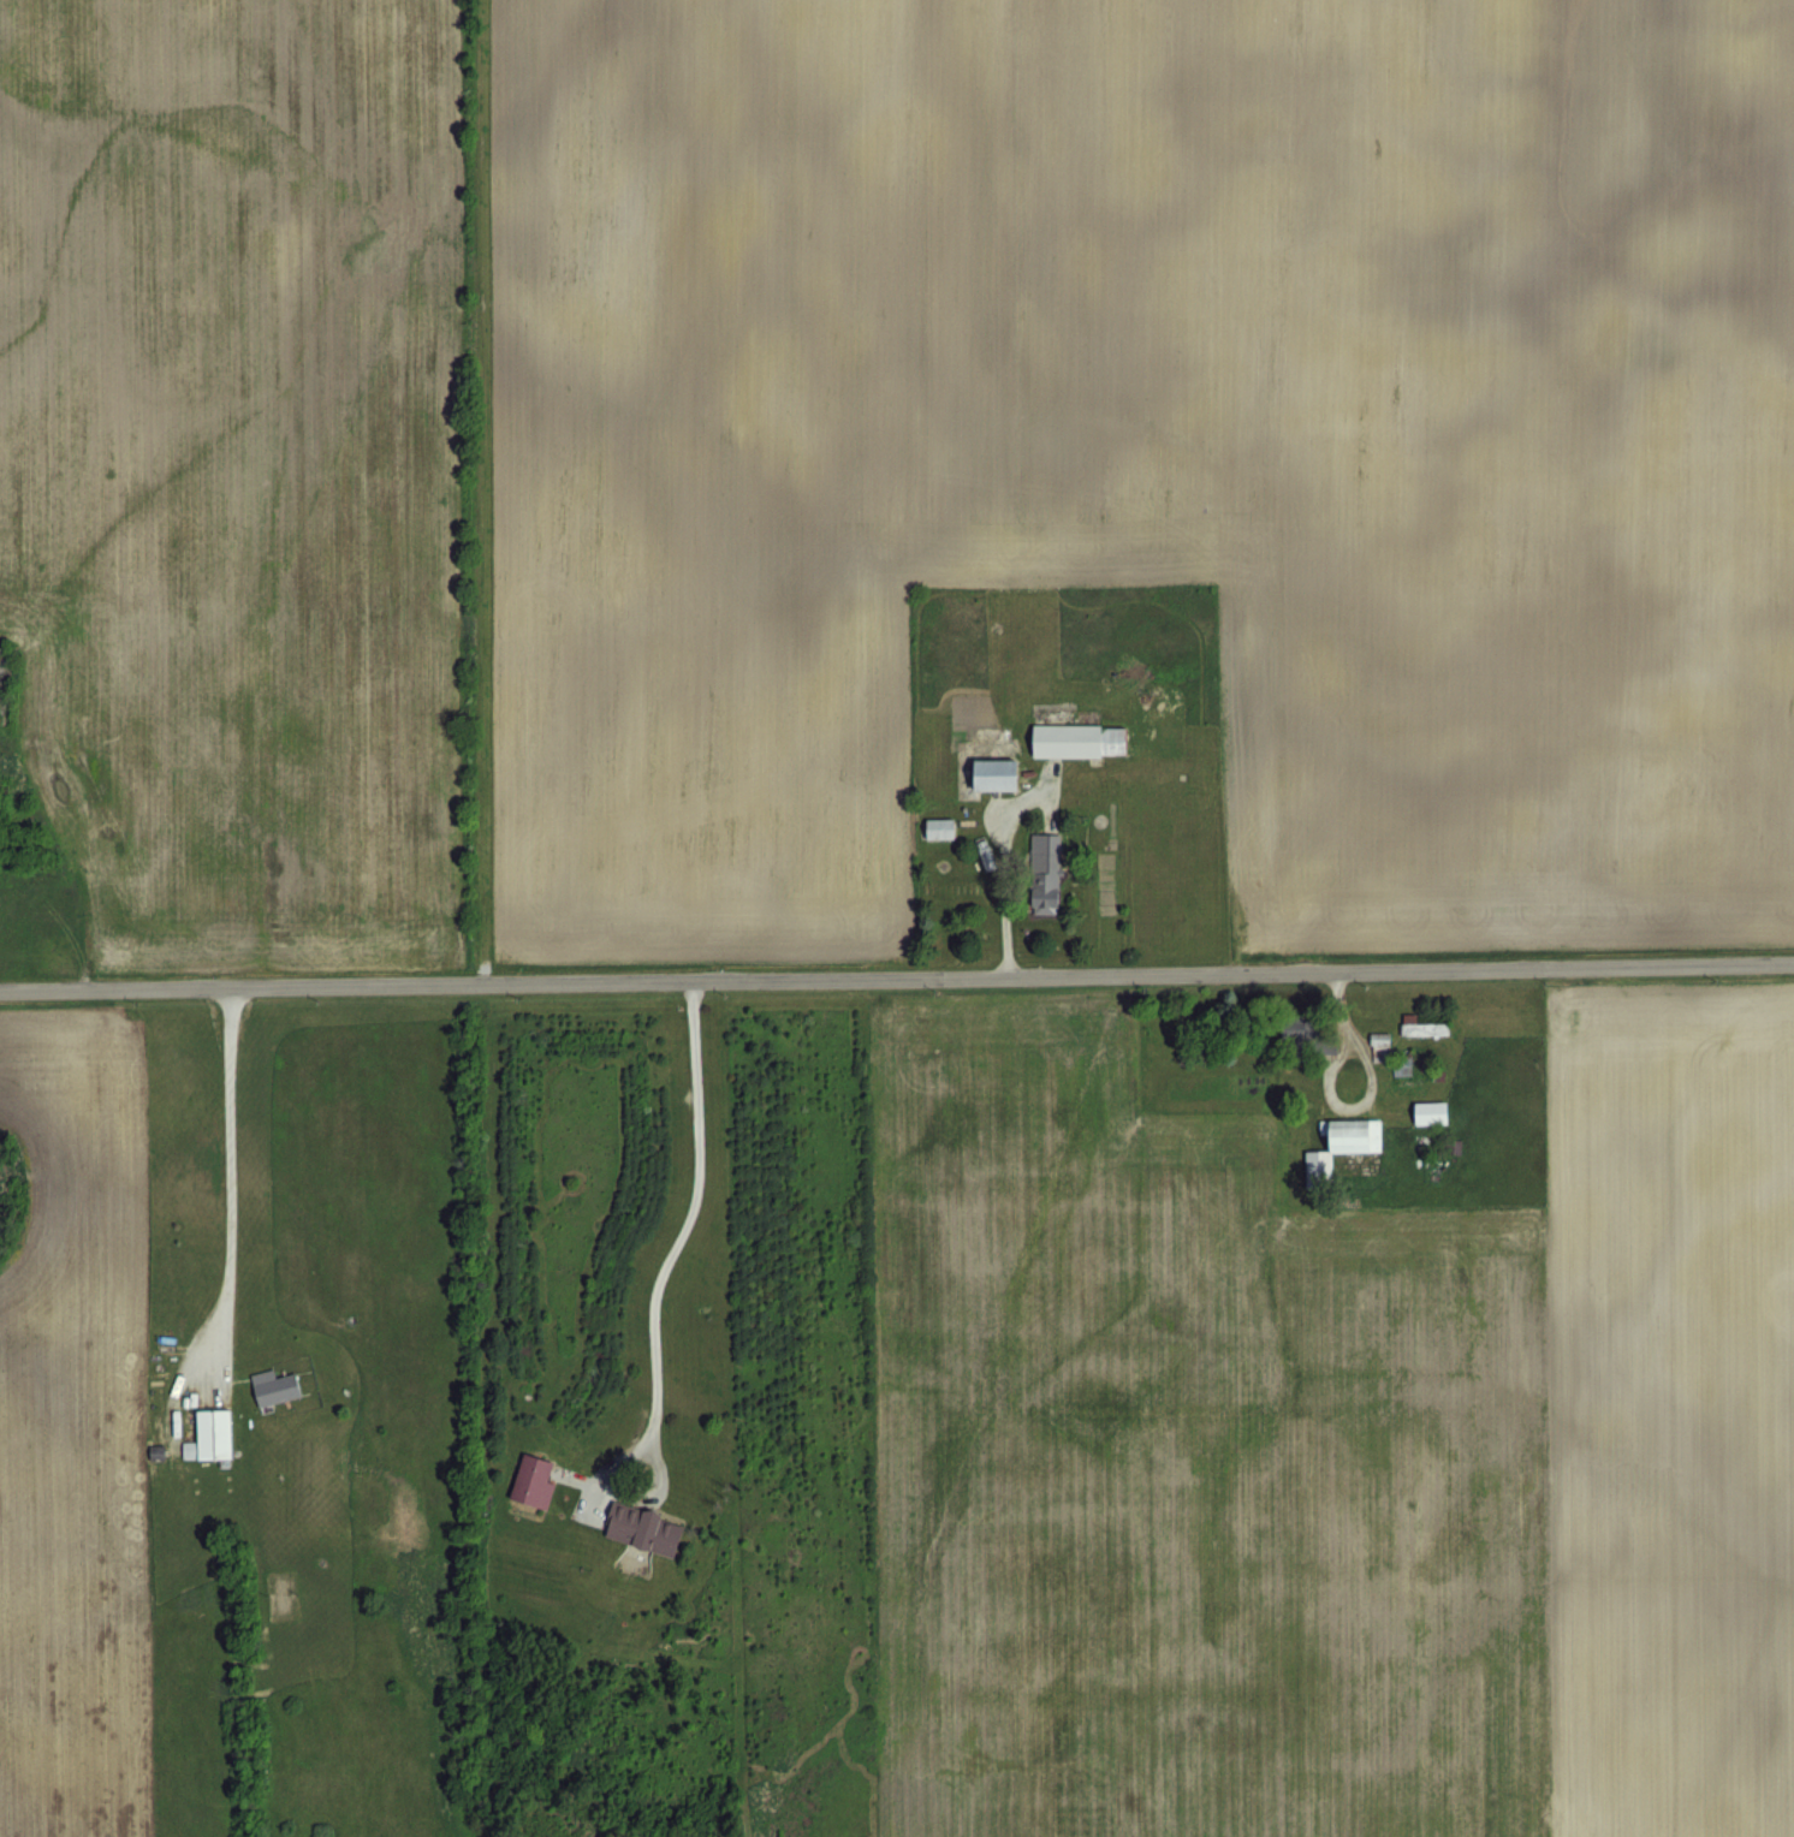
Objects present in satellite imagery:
building: (1074, 739)
building: (987, 773)
building: (935, 827)
building: (986, 858)
road: (1003, 872)
building: (1044, 872)
road: (897, 971)
building: (1422, 1027)
building: (1303, 1036)
building: (1378, 1041)
building: (1426, 1112)
building: (1336, 1146)
road: (228, 1167)
road: (695, 1194)
building: (274, 1387)
building: (207, 1434)
building: (529, 1481)
building: (640, 1528)

